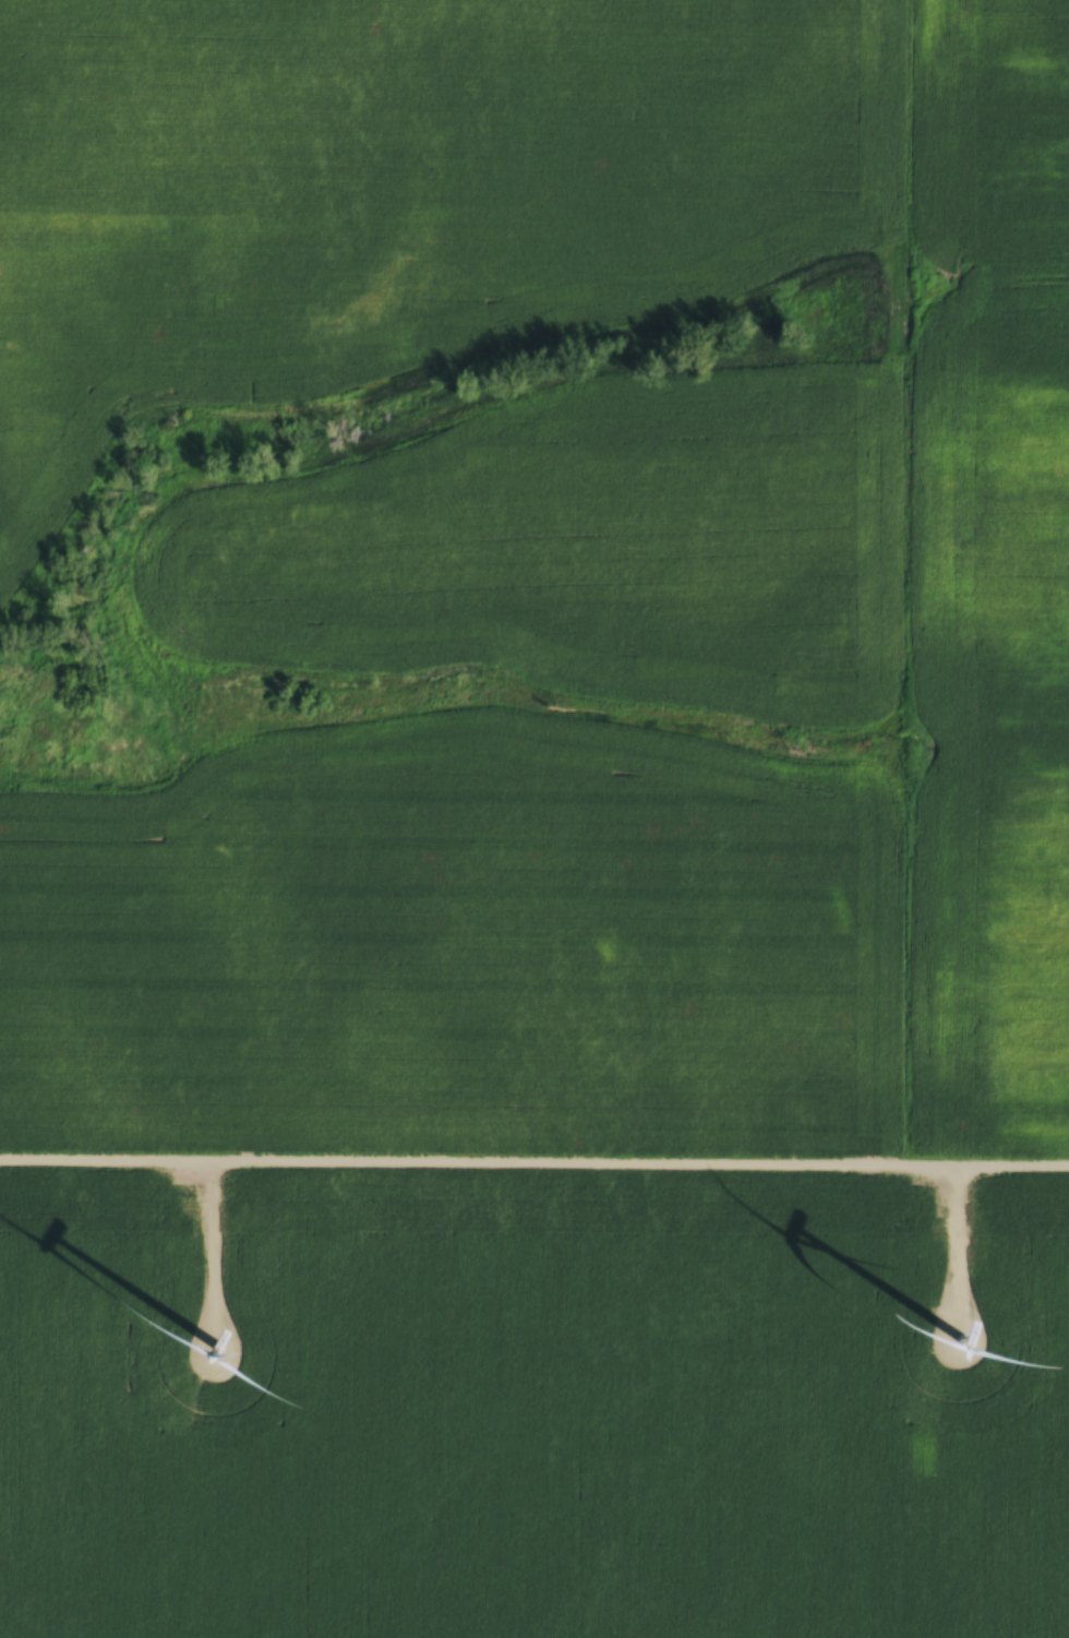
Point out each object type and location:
road: (533, 1165)
wind turbine: (961, 1340)
wind turbine: (215, 1349)

